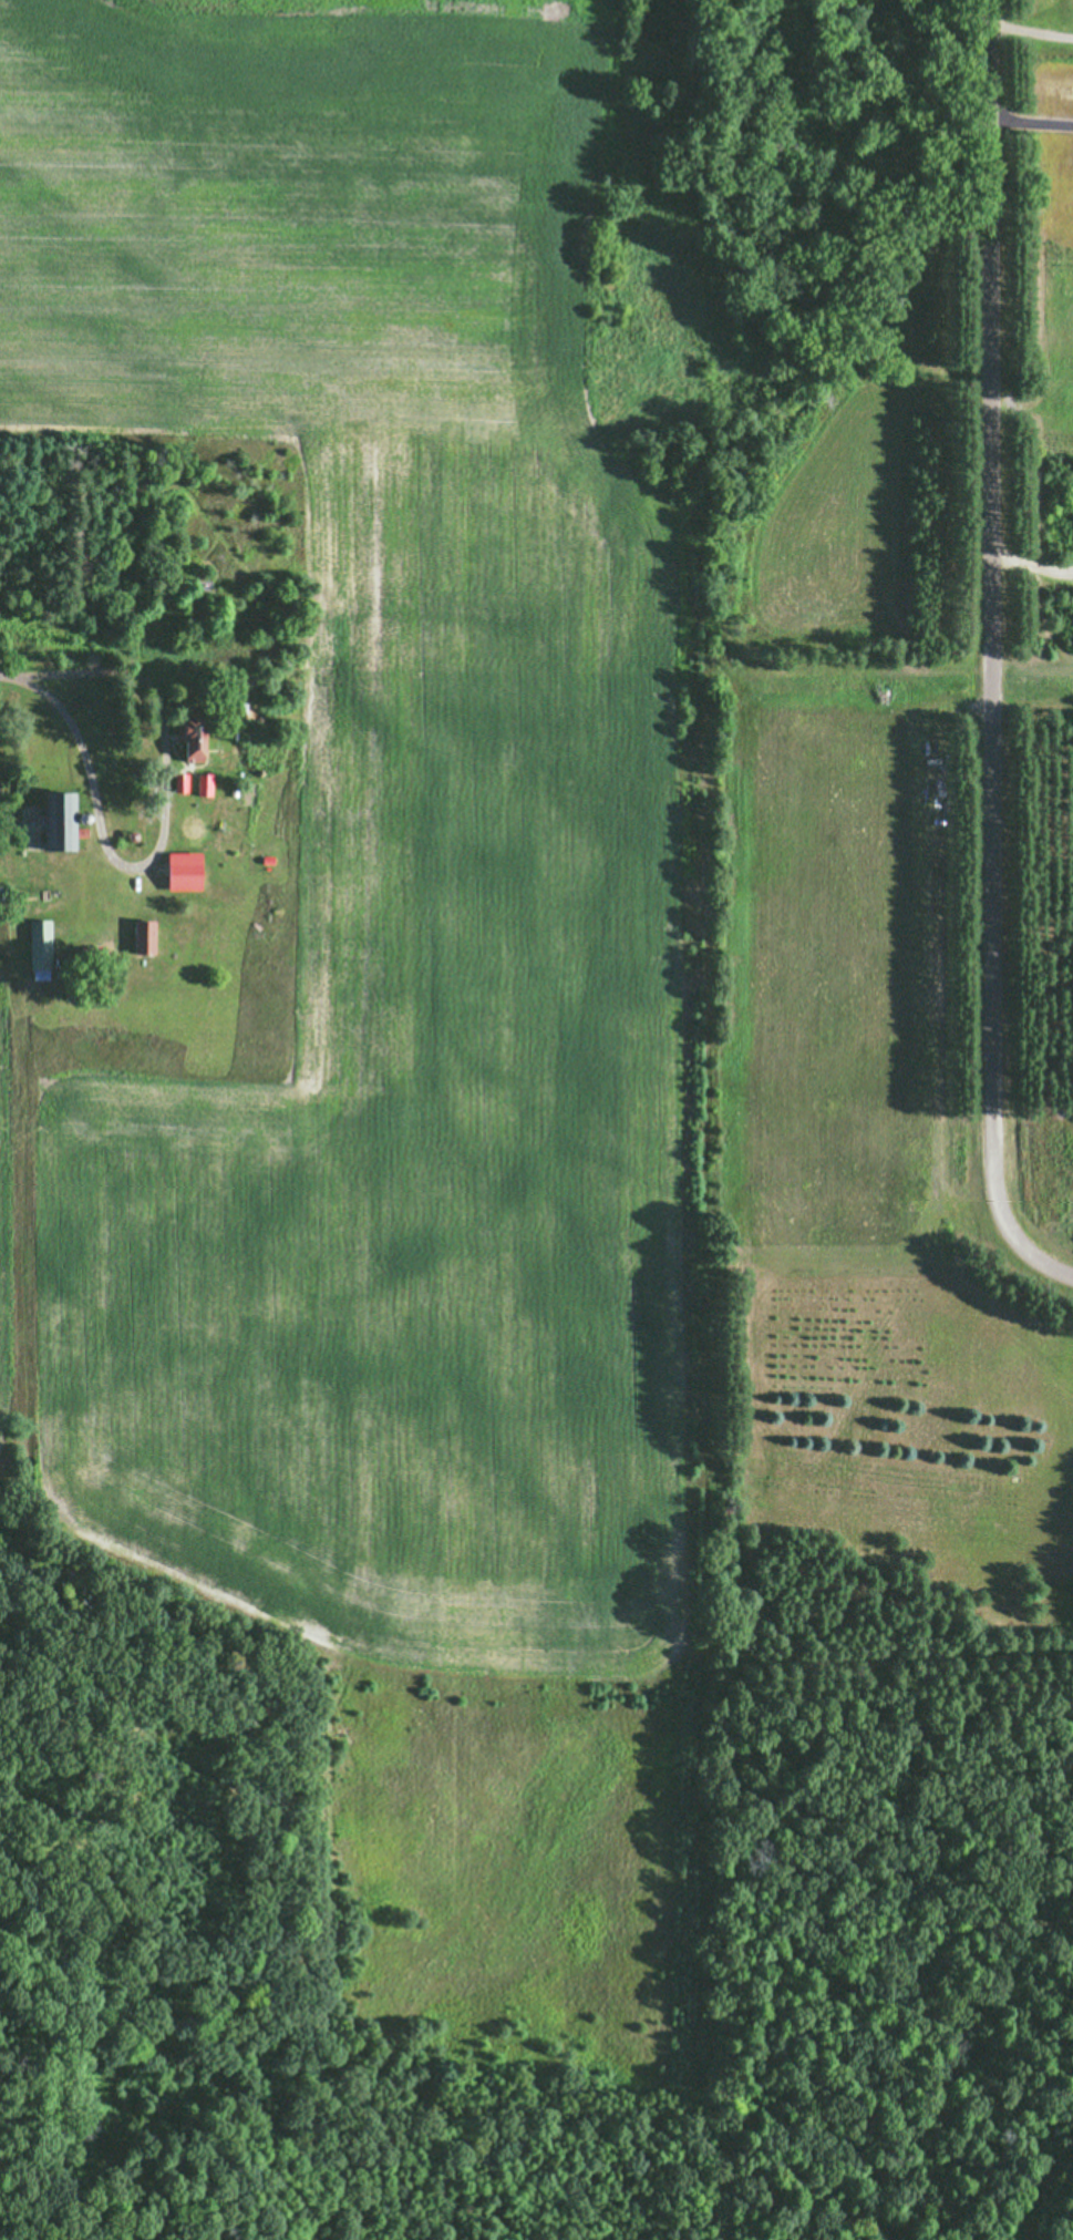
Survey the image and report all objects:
building: (135, 483)
road: (1030, 563)
road: (991, 656)
building: (190, 737)
road: (93, 780)
building: (204, 783)
building: (56, 820)
building: (174, 874)
building: (143, 935)
building: (40, 948)

